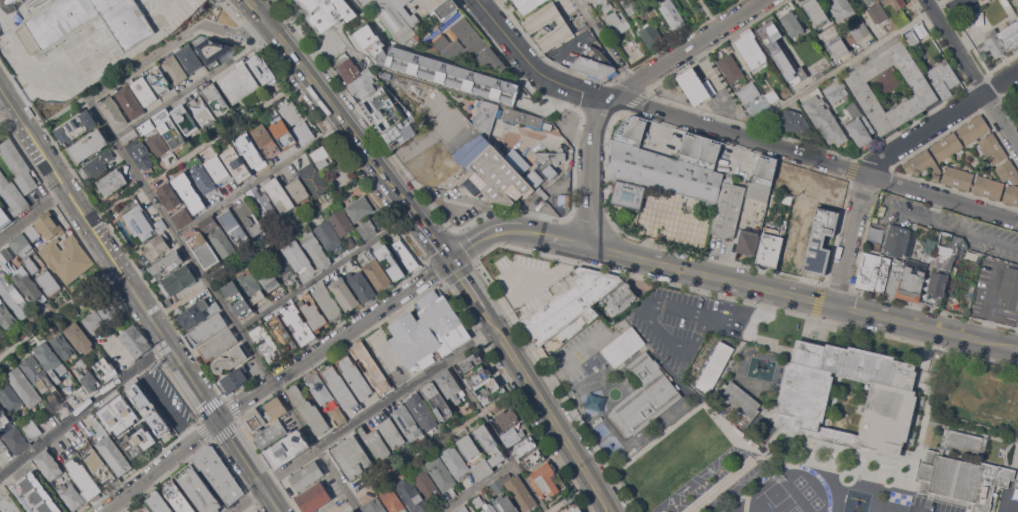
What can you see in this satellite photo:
building: (990, 0)
building: (991, 0)
building: (596, 1)
building: (868, 1)
road: (484, 2)
building: (894, 3)
building: (528, 4)
building: (960, 4)
building: (607, 6)
building: (631, 6)
building: (1017, 7)
building: (447, 8)
building: (842, 8)
building: (878, 12)
building: (816, 13)
building: (328, 14)
building: (672, 14)
building: (395, 16)
building: (900, 18)
building: (980, 18)
building: (634, 21)
building: (85, 22)
building: (617, 23)
building: (792, 23)
building: (892, 26)
building: (563, 27)
building: (0, 33)
building: (858, 33)
road: (506, 34)
building: (651, 35)
building: (911, 38)
building: (1000, 39)
road: (178, 40)
road: (605, 42)
building: (467, 45)
building: (837, 45)
road: (688, 48)
building: (750, 48)
building: (210, 49)
building: (782, 55)
building: (190, 58)
building: (594, 62)
building: (262, 67)
road: (839, 67)
building: (348, 68)
building: (437, 68)
building: (731, 68)
building: (174, 69)
building: (808, 70)
road: (972, 72)
building: (943, 78)
building: (160, 80)
building: (239, 83)
building: (362, 84)
building: (696, 86)
building: (891, 87)
building: (835, 89)
building: (144, 90)
road: (189, 91)
building: (749, 92)
building: (772, 96)
building: (217, 99)
building: (130, 101)
building: (202, 110)
building: (113, 112)
road: (7, 116)
building: (391, 117)
building: (486, 117)
building: (522, 118)
building: (825, 120)
building: (187, 122)
building: (297, 122)
building: (793, 122)
building: (147, 125)
building: (859, 125)
building: (76, 127)
building: (169, 128)
road: (350, 128)
building: (974, 129)
building: (283, 133)
building: (265, 139)
road: (210, 141)
building: (158, 144)
building: (247, 145)
building: (89, 146)
road: (775, 147)
building: (947, 147)
building: (992, 148)
building: (139, 149)
road: (883, 155)
building: (322, 156)
building: (552, 156)
building: (98, 162)
building: (237, 164)
building: (19, 165)
building: (924, 165)
building: (663, 166)
building: (218, 168)
building: (524, 168)
road: (589, 169)
building: (551, 171)
building: (489, 172)
building: (958, 177)
building: (762, 178)
building: (203, 179)
building: (314, 179)
road: (262, 180)
building: (113, 182)
building: (1014, 182)
building: (988, 187)
building: (189, 191)
building: (299, 191)
building: (13, 195)
building: (279, 195)
building: (170, 196)
building: (788, 199)
building: (261, 203)
building: (359, 208)
building: (728, 209)
building: (223, 212)
road: (33, 214)
building: (183, 217)
building: (250, 217)
building: (4, 218)
building: (379, 221)
building: (143, 222)
building: (342, 222)
building: (209, 223)
building: (45, 227)
building: (368, 228)
building: (237, 231)
road: (536, 232)
building: (328, 235)
road: (484, 235)
building: (122, 236)
road: (565, 239)
building: (899, 240)
building: (821, 241)
building: (223, 242)
building: (350, 242)
building: (748, 242)
building: (21, 243)
road: (268, 246)
building: (770, 247)
building: (154, 248)
building: (204, 249)
building: (315, 249)
building: (5, 255)
building: (298, 255)
building: (405, 255)
building: (67, 258)
building: (929, 258)
traffic signals: (449, 260)
building: (280, 262)
building: (390, 262)
building: (31, 264)
building: (167, 264)
building: (943, 266)
road: (324, 269)
building: (874, 272)
building: (378, 274)
road: (709, 274)
building: (268, 277)
building: (907, 278)
building: (179, 280)
building: (49, 283)
road: (466, 283)
road: (535, 283)
building: (251, 286)
building: (362, 286)
building: (29, 287)
building: (1009, 289)
building: (344, 294)
building: (14, 296)
building: (621, 297)
building: (237, 299)
road: (139, 300)
building: (328, 302)
building: (570, 304)
road: (223, 305)
building: (109, 309)
building: (312, 311)
building: (197, 313)
building: (6, 315)
building: (93, 321)
building: (298, 324)
road: (924, 325)
road: (41, 326)
building: (209, 328)
building: (1, 331)
building: (428, 332)
building: (282, 334)
building: (80, 338)
building: (135, 341)
building: (218, 344)
building: (267, 344)
building: (64, 346)
building: (624, 346)
road: (1016, 347)
road: (579, 355)
building: (364, 357)
building: (231, 358)
building: (51, 361)
building: (471, 362)
building: (715, 366)
building: (106, 369)
building: (37, 372)
building: (479, 375)
building: (355, 376)
building: (87, 378)
building: (235, 379)
road: (274, 381)
building: (450, 385)
building: (24, 386)
building: (340, 387)
building: (378, 387)
building: (487, 388)
building: (319, 389)
building: (10, 396)
building: (644, 397)
building: (892, 398)
building: (436, 399)
building: (738, 401)
building: (275, 407)
road: (378, 407)
building: (149, 409)
road: (547, 409)
building: (310, 410)
road: (84, 411)
building: (423, 412)
building: (118, 414)
building: (338, 414)
building: (4, 418)
building: (254, 419)
building: (506, 419)
building: (407, 422)
building: (32, 430)
building: (392, 433)
building: (271, 434)
building: (512, 435)
road: (496, 436)
building: (16, 440)
building: (137, 440)
building: (375, 443)
building: (489, 443)
building: (2, 446)
road: (430, 446)
building: (525, 446)
building: (469, 447)
building: (288, 448)
building: (111, 450)
building: (353, 457)
building: (532, 460)
building: (455, 461)
building: (96, 463)
building: (49, 465)
building: (482, 469)
building: (962, 471)
building: (218, 473)
building: (441, 473)
building: (307, 476)
building: (545, 479)
building: (84, 480)
building: (426, 484)
road: (477, 487)
road: (902, 489)
building: (199, 490)
building: (518, 491)
building: (36, 494)
building: (70, 494)
building: (412, 495)
building: (178, 497)
building: (313, 498)
road: (245, 499)
building: (393, 500)
building: (477, 501)
building: (159, 503)
building: (9, 504)
building: (506, 504)
building: (375, 505)
building: (145, 509)
building: (462, 509)
building: (491, 509)
building: (577, 509)
building: (0, 511)
building: (353, 511)

